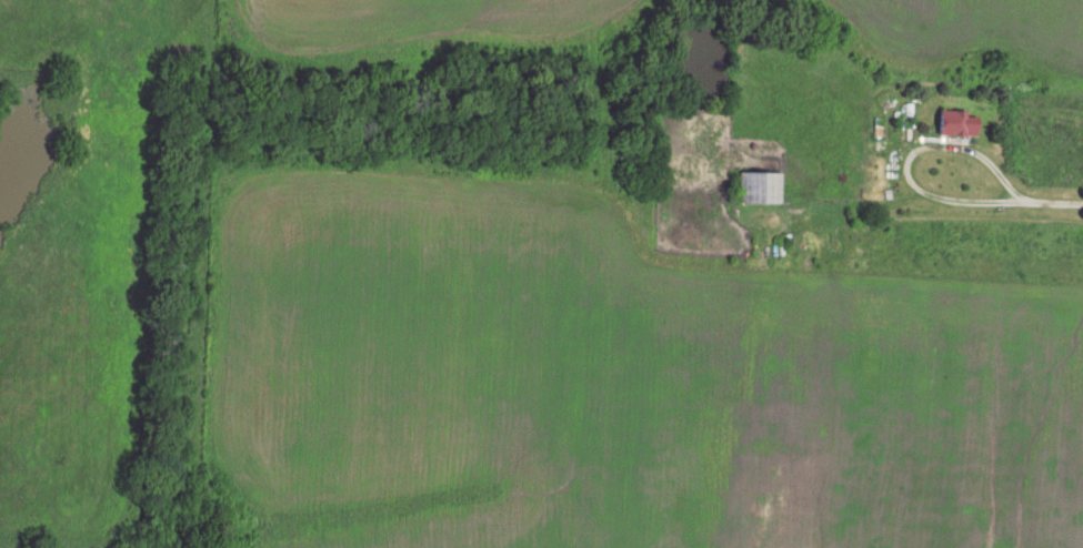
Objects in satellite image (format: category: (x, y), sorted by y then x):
building: (951, 123)
building: (758, 187)
road: (994, 202)

